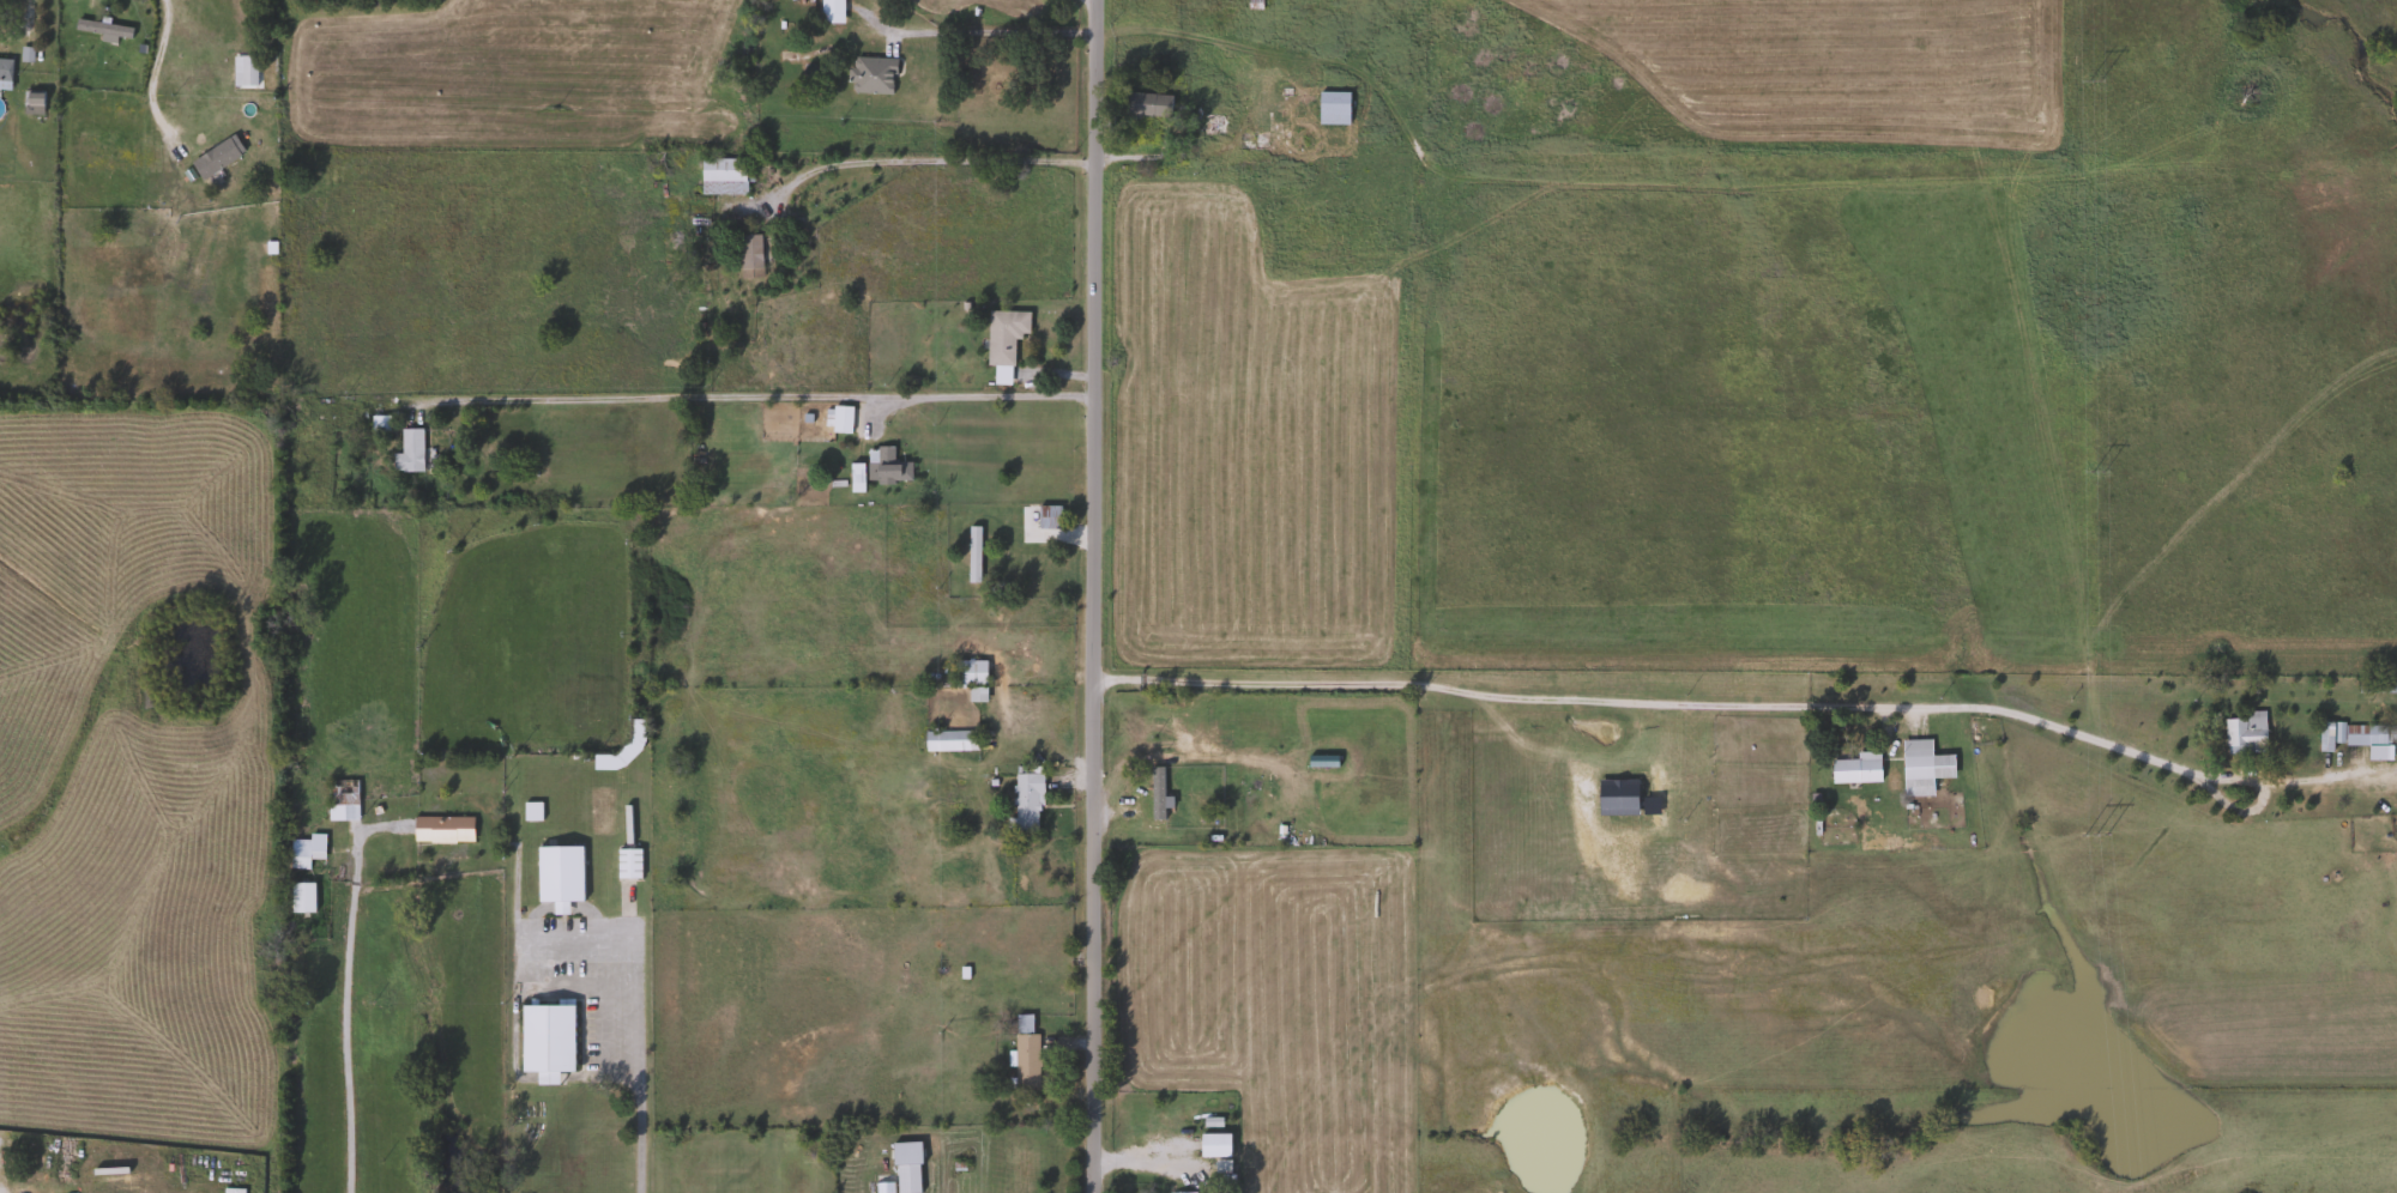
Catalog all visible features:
road: (23, 25)
road: (980, 31)
road: (156, 63)
building: (790, 68)
building: (4, 69)
building: (241, 71)
power tower: (2094, 83)
building: (1145, 105)
building: (1329, 108)
building: (1209, 125)
building: (1249, 141)
road: (1151, 156)
building: (212, 159)
road: (917, 159)
building: (719, 177)
building: (747, 254)
building: (1001, 337)
building: (998, 380)
road: (749, 396)
building: (838, 420)
building: (378, 425)
building: (405, 452)
building: (883, 470)
power tower: (2100, 473)
building: (1045, 516)
road: (1064, 539)
building: (970, 553)
road: (1086, 595)
building: (966, 672)
building: (2373, 686)
road: (1722, 704)
building: (2242, 733)
building: (2366, 734)
building: (947, 740)
building: (1914, 768)
building: (1853, 769)
building: (1135, 797)
building: (339, 800)
building: (1022, 803)
building: (529, 811)
building: (439, 829)
power tower: (2096, 834)
building: (302, 850)
building: (626, 864)
building: (555, 876)
building: (297, 898)
road: (518, 939)
road: (344, 991)
road: (602, 1028)
building: (544, 1041)
building: (1022, 1054)
road: (636, 1089)
building: (1210, 1144)
building: (1183, 1192)

